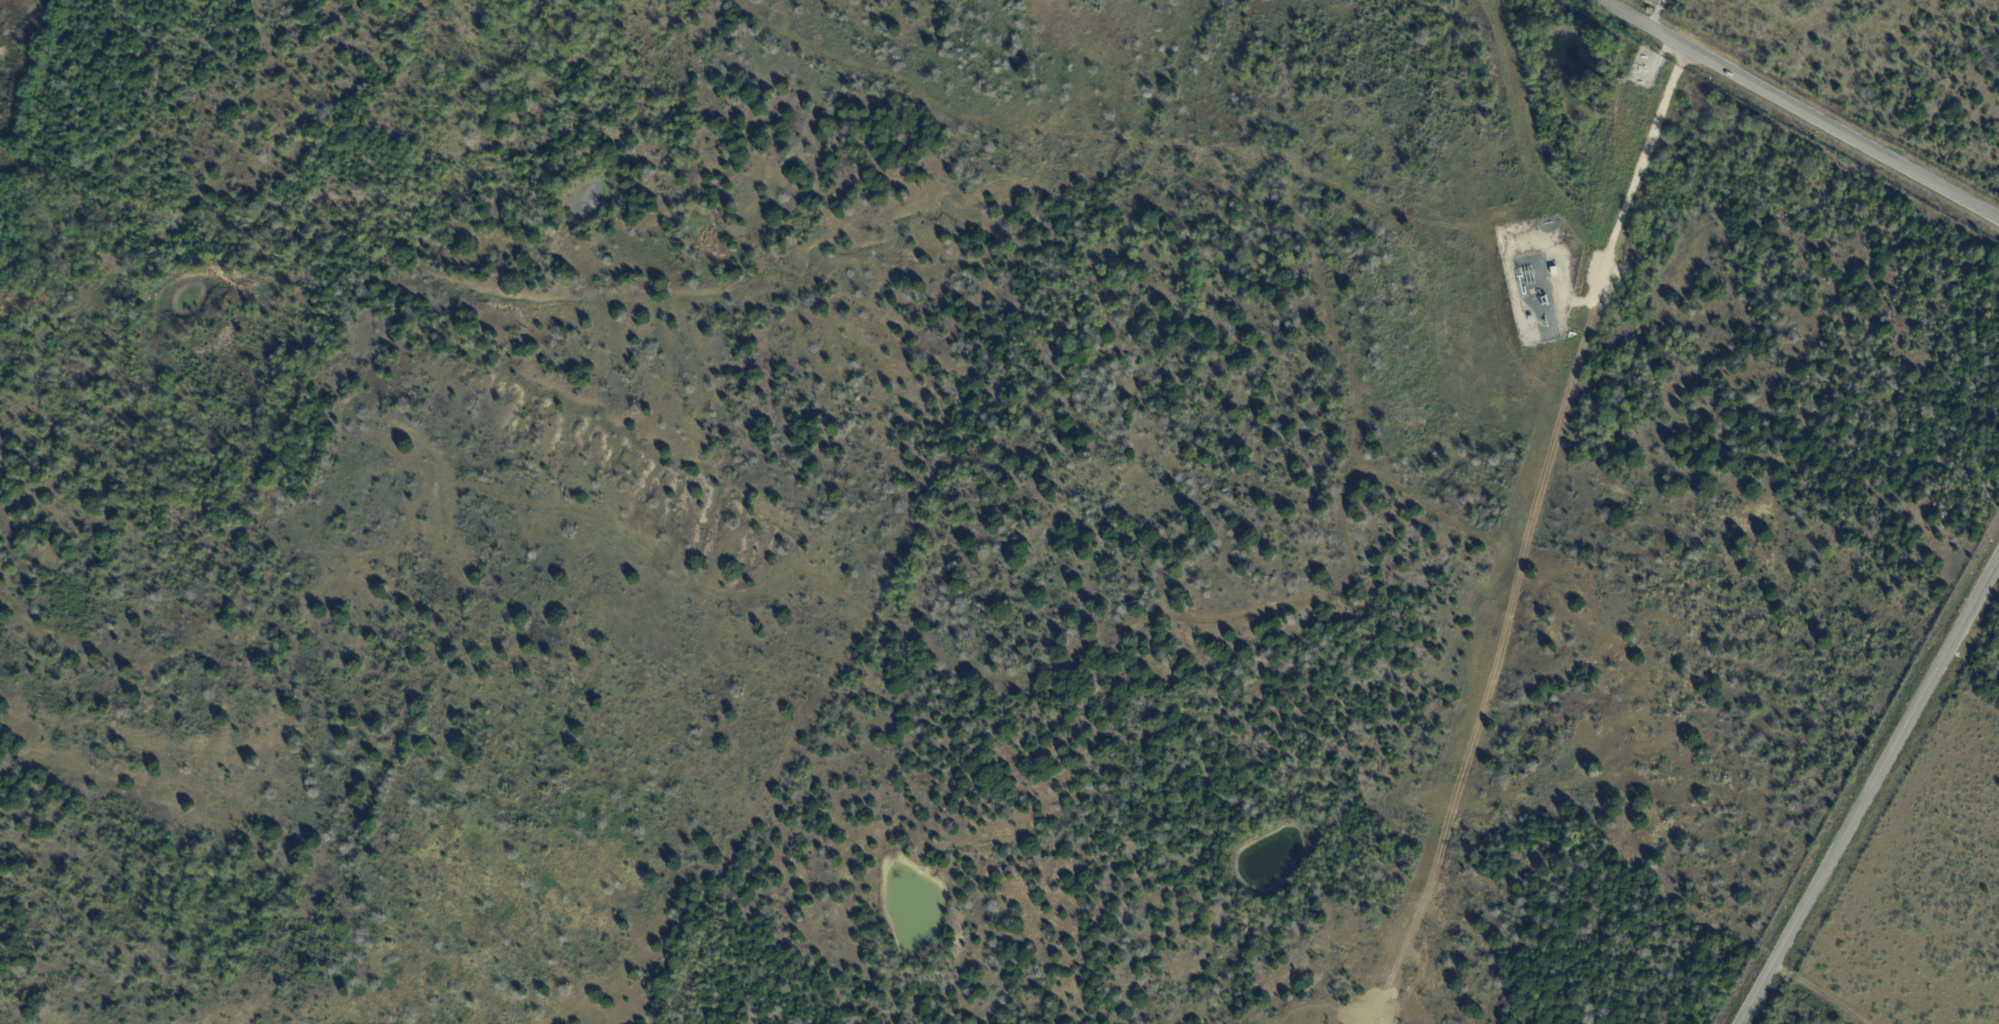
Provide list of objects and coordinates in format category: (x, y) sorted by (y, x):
road: (1800, 110)
building: (1552, 271)
road: (1871, 792)

